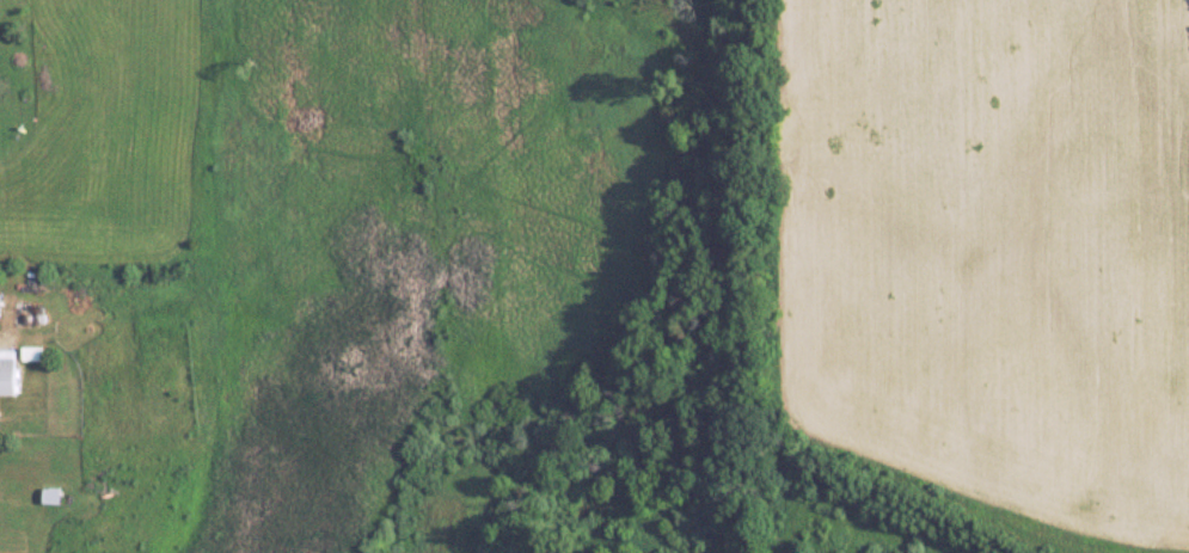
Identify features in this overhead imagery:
building: (7, 376)
building: (50, 494)

